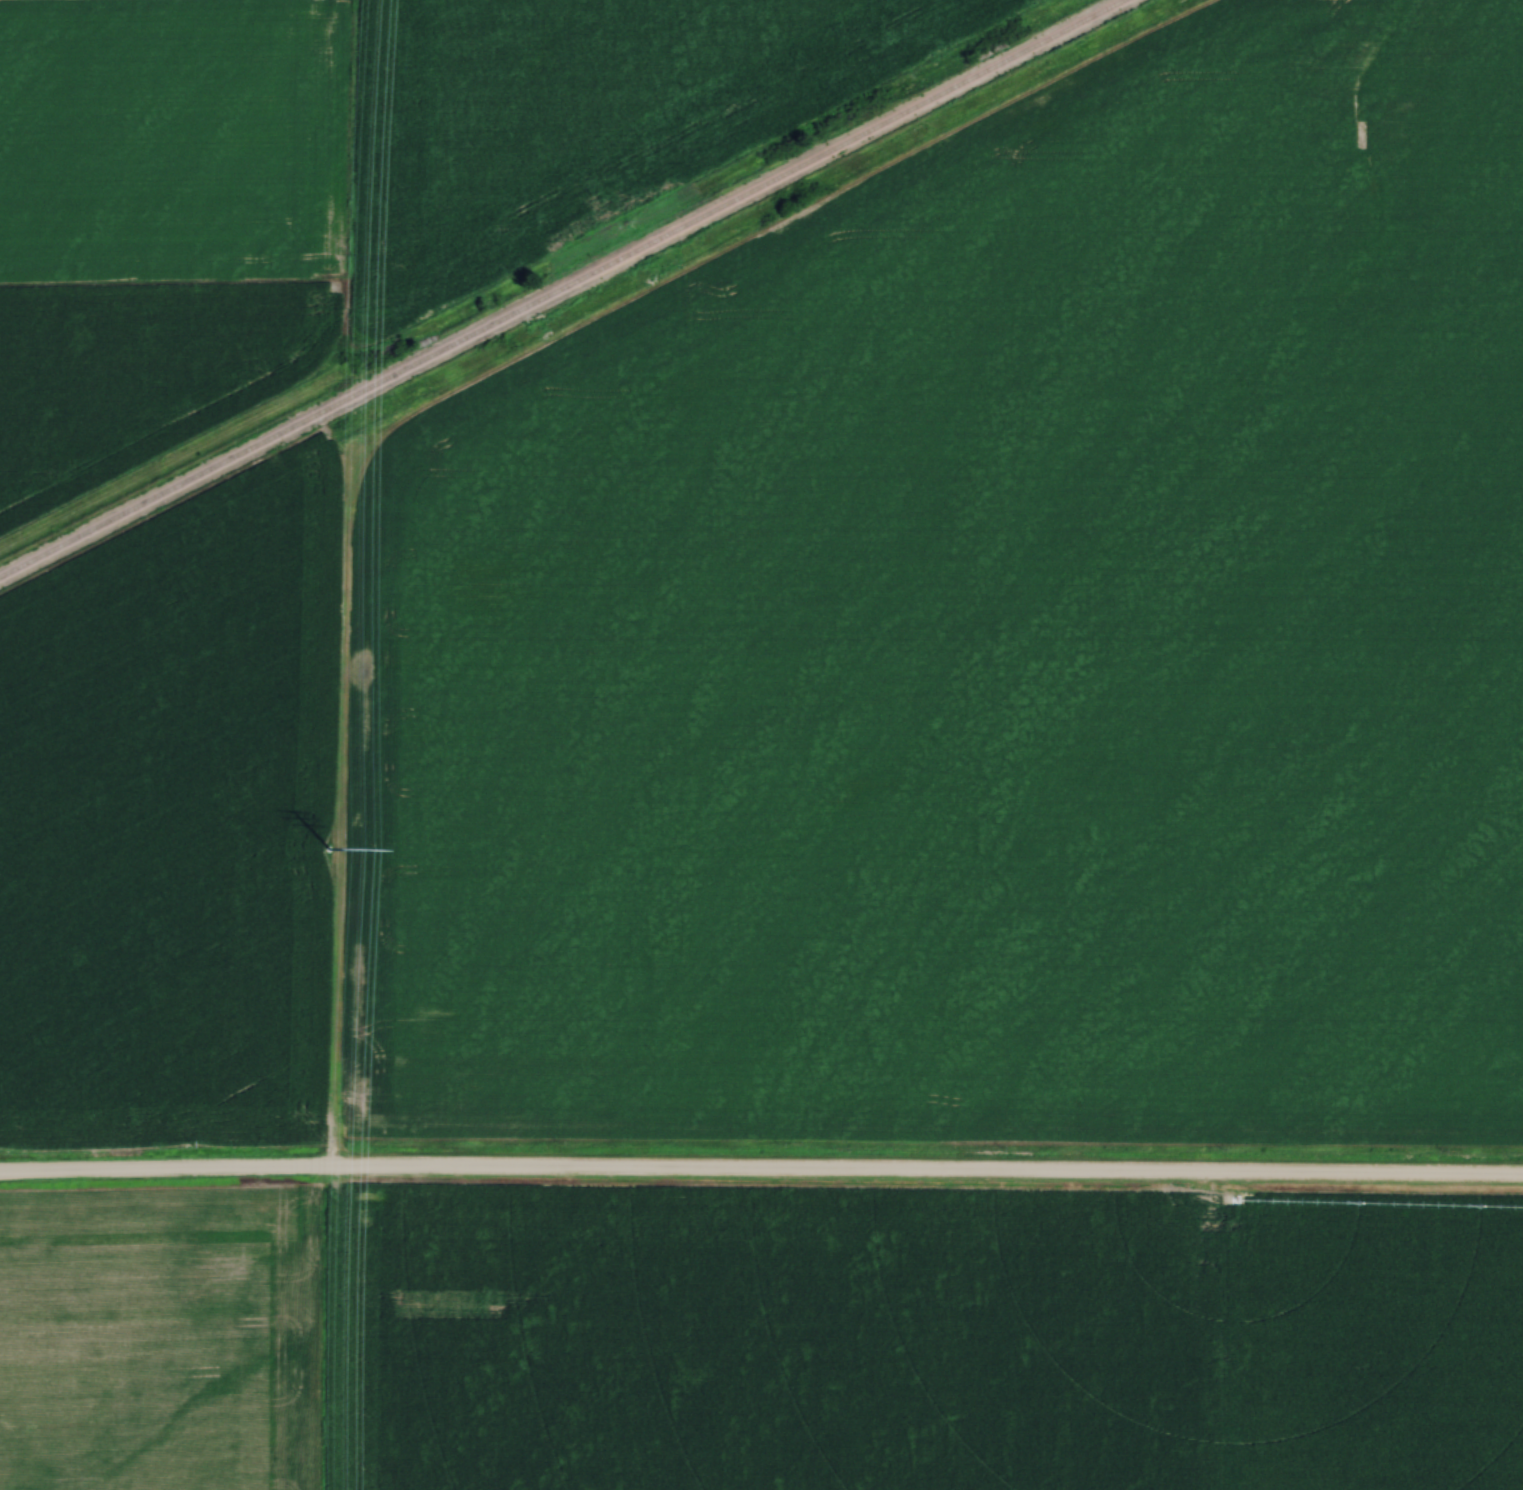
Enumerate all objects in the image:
railway: (550, 276)
power tower: (326, 849)
road: (761, 1189)

